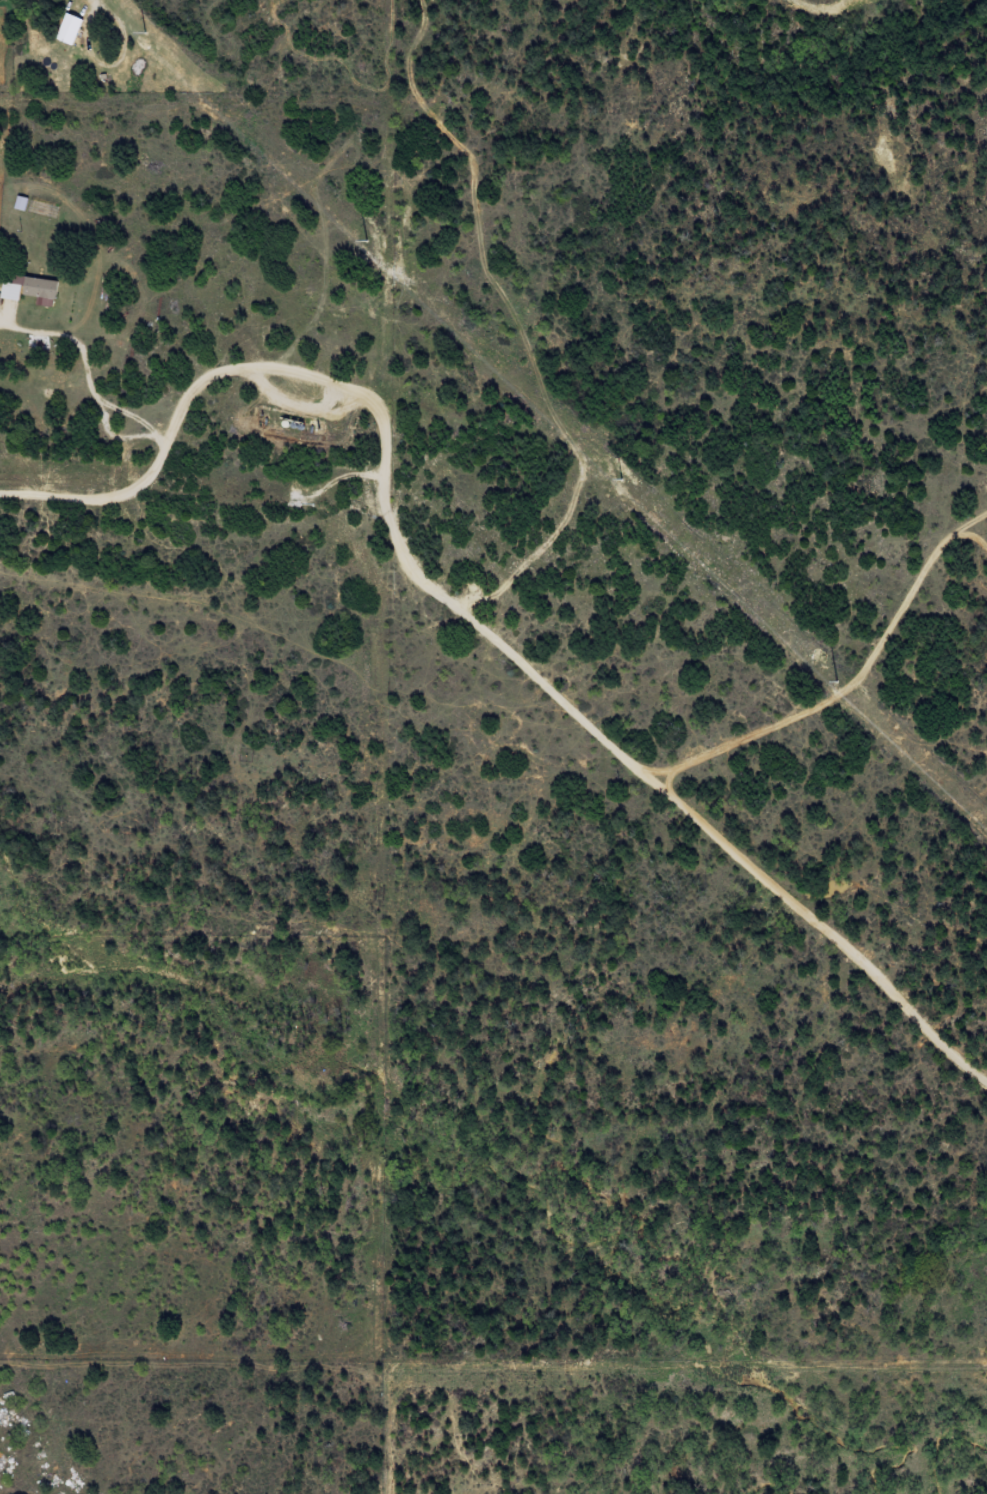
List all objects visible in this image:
building: (71, 28)
building: (23, 202)
building: (44, 287)
building: (14, 291)
road: (476, 611)
road: (91, 1081)

